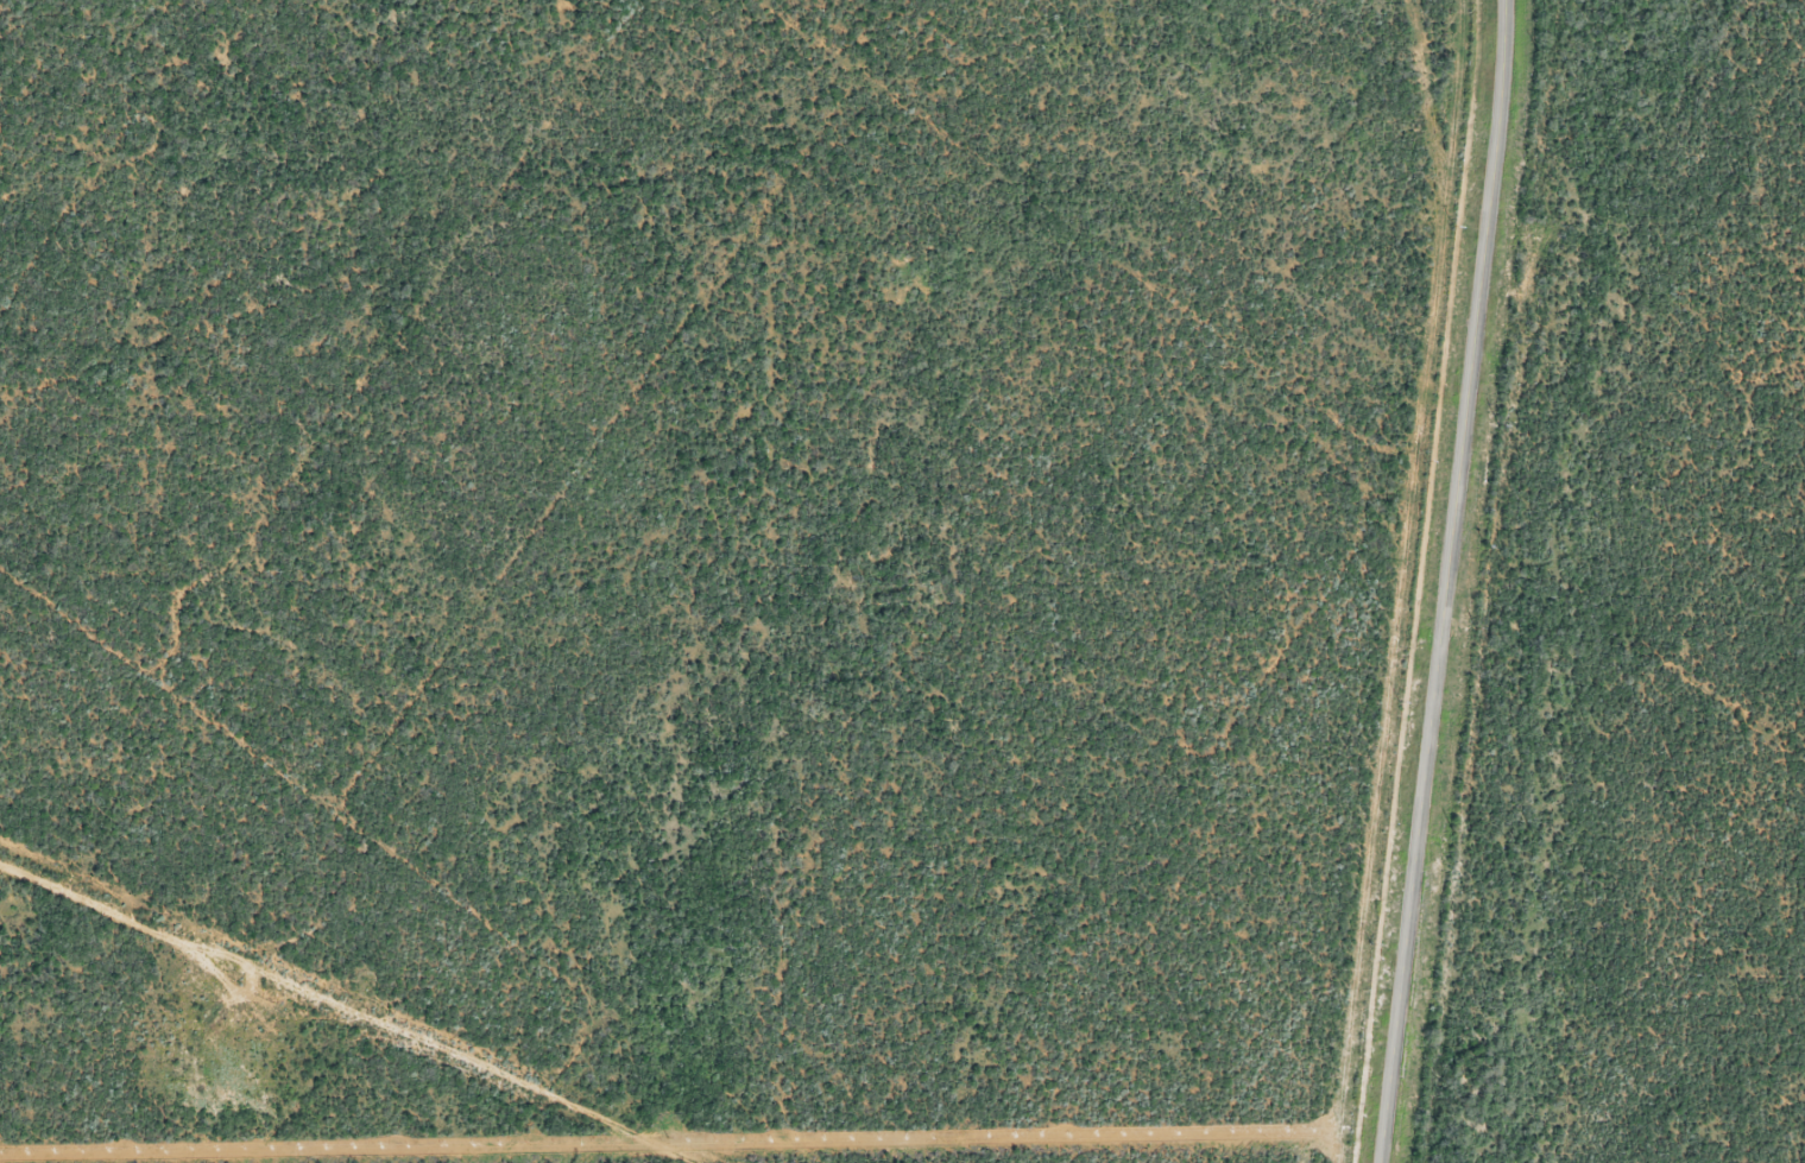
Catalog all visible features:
road: (1447, 582)

